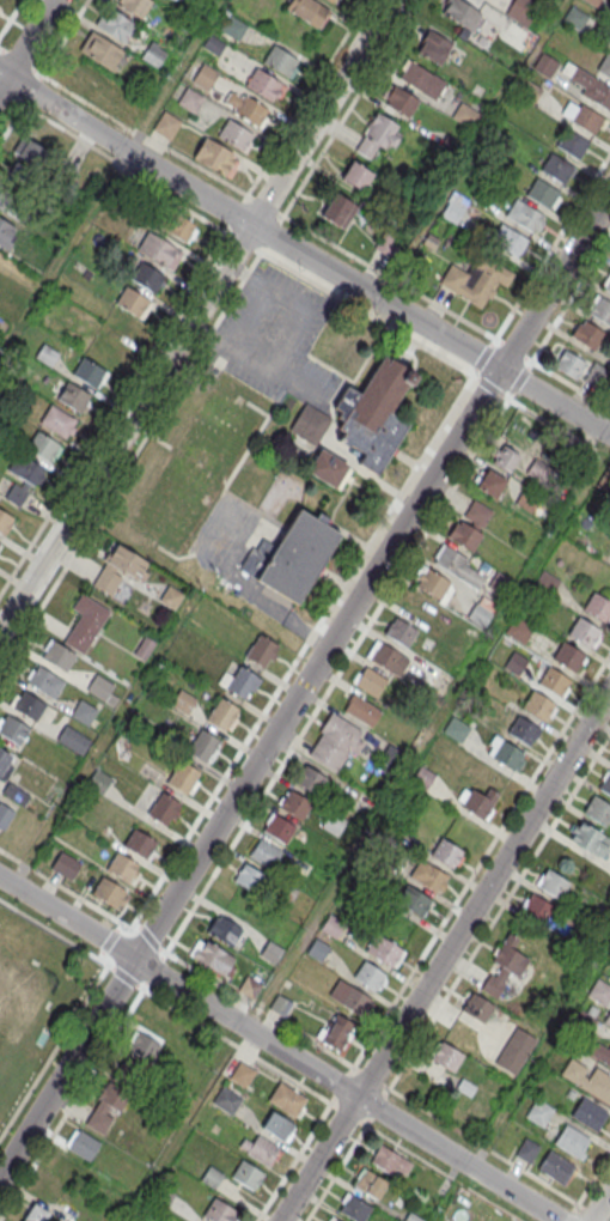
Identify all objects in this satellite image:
building: (330, 0)
building: (132, 5)
building: (307, 11)
building: (521, 11)
building: (459, 14)
road: (11, 17)
building: (575, 17)
building: (115, 24)
building: (233, 29)
road: (26, 43)
building: (213, 45)
building: (100, 49)
building: (434, 49)
road: (55, 51)
building: (153, 54)
building: (280, 62)
building: (545, 65)
building: (605, 66)
building: (83, 77)
building: (205, 78)
building: (421, 81)
building: (262, 85)
building: (588, 86)
building: (530, 91)
road: (306, 98)
building: (190, 101)
building: (399, 101)
building: (134, 104)
building: (249, 113)
building: (587, 121)
building: (166, 126)
road: (338, 126)
building: (379, 135)
building: (234, 136)
building: (573, 145)
building: (32, 153)
building: (215, 159)
building: (557, 169)
building: (356, 177)
road: (111, 180)
building: (543, 194)
building: (336, 211)
building: (526, 218)
building: (175, 226)
building: (6, 231)
building: (511, 242)
road: (553, 245)
building: (160, 251)
road: (303, 254)
building: (146, 278)
road: (389, 278)
building: (476, 281)
building: (608, 288)
road: (187, 292)
building: (132, 303)
building: (600, 311)
road: (194, 315)
building: (588, 336)
parking lot: (275, 339)
road: (514, 351)
building: (569, 366)
building: (89, 373)
building: (593, 376)
building: (74, 399)
building: (374, 417)
building: (59, 423)
building: (310, 424)
building: (43, 448)
building: (506, 458)
building: (328, 468)
building: (26, 470)
building: (538, 472)
building: (490, 485)
building: (529, 502)
building: (478, 515)
building: (5, 523)
park: (221, 530)
building: (466, 539)
building: (298, 559)
building: (451, 563)
building: (120, 571)
building: (547, 583)
building: (433, 585)
building: (499, 585)
road: (250, 594)
building: (171, 599)
building: (598, 609)
building: (480, 615)
building: (86, 625)
road: (367, 625)
building: (519, 632)
building: (401, 633)
building: (585, 634)
building: (144, 648)
building: (261, 651)
building: (59, 657)
building: (569, 658)
building: (389, 661)
building: (516, 663)
building: (370, 682)
building: (45, 684)
building: (239, 684)
road: (304, 684)
building: (555, 684)
building: (103, 691)
building: (183, 703)
building: (29, 706)
building: (538, 707)
building: (362, 712)
building: (84, 713)
building: (222, 716)
road: (261, 716)
building: (456, 729)
building: (13, 731)
building: (524, 733)
building: (73, 741)
building: (170, 741)
building: (335, 745)
building: (203, 748)
building: (508, 757)
building: (389, 761)
building: (4, 766)
building: (150, 774)
building: (422, 778)
building: (183, 779)
building: (310, 779)
building: (98, 782)
building: (606, 786)
building: (294, 804)
building: (477, 806)
building: (164, 810)
building: (598, 812)
building: (5, 815)
building: (331, 822)
building: (279, 828)
building: (591, 840)
building: (140, 845)
building: (264, 854)
building: (446, 855)
building: (65, 867)
building: (123, 869)
building: (428, 877)
road: (470, 877)
building: (249, 879)
building: (553, 885)
building: (109, 894)
building: (411, 901)
road: (499, 910)
building: (537, 910)
building: (331, 928)
building: (224, 930)
road: (72, 943)
building: (317, 950)
building: (384, 952)
road: (445, 954)
building: (212, 958)
building: (504, 966)
building: (609, 966)
building: (368, 977)
building: (249, 988)
building: (600, 992)
park: (20, 994)
building: (349, 1000)
park: (33, 1002)
building: (280, 1006)
building: (476, 1007)
road: (258, 1009)
building: (608, 1020)
building: (336, 1031)
road: (280, 1047)
building: (141, 1049)
road: (53, 1051)
building: (514, 1052)
building: (599, 1052)
building: (447, 1058)
building: (242, 1076)
building: (588, 1081)
road: (341, 1085)
building: (227, 1101)
building: (287, 1101)
road: (376, 1106)
building: (106, 1107)
building: (539, 1113)
building: (590, 1117)
building: (277, 1128)
building: (83, 1143)
road: (304, 1143)
road: (395, 1143)
building: (572, 1143)
road: (483, 1146)
building: (527, 1152)
building: (263, 1153)
building: (390, 1162)
building: (67, 1168)
building: (556, 1170)
building: (246, 1177)
road: (587, 1185)
building: (371, 1186)
road: (599, 1204)
building: (355, 1210)
building: (219, 1211)
road: (591, 1211)
building: (35, 1214)
building: (336, 1220)

